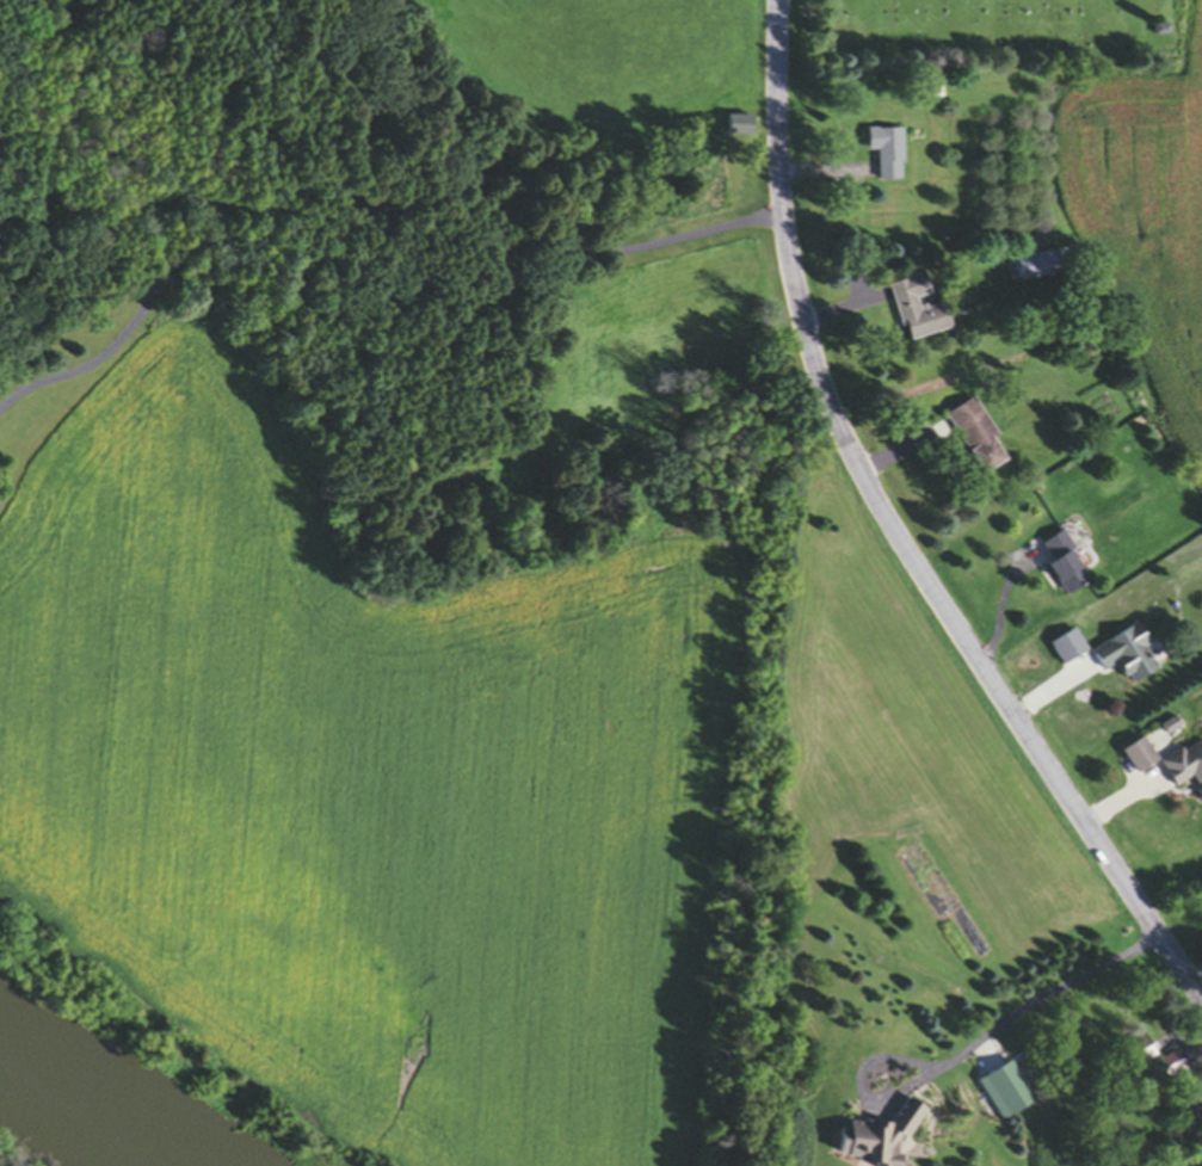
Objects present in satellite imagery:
building: (738, 128)
building: (886, 154)
road: (352, 218)
building: (917, 310)
building: (974, 437)
road: (893, 536)
building: (1061, 566)
building: (1127, 656)
building: (1139, 757)
building: (1185, 771)
building: (1140, 1053)
road: (960, 1061)
building: (1171, 1068)
river: (91, 1099)
building: (1191, 1110)
building: (874, 1140)
road: (1184, 1154)

